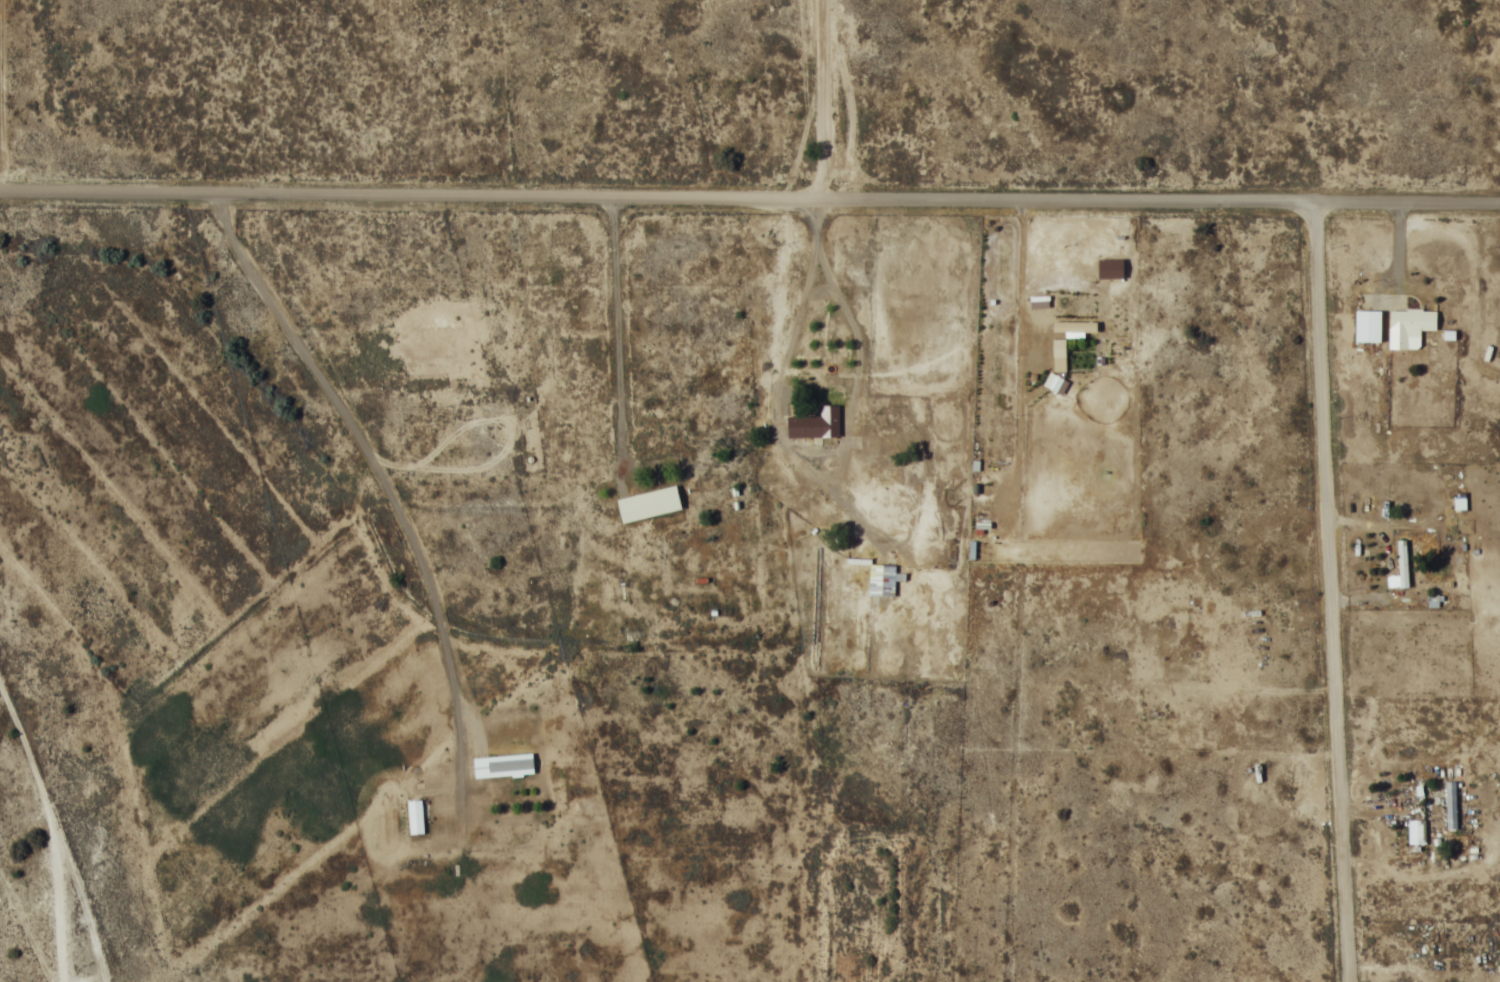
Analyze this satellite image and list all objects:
road: (824, 98)
road: (749, 195)
building: (1409, 324)
building: (1368, 325)
building: (815, 423)
building: (648, 503)
building: (1402, 563)
building: (883, 579)
road: (1332, 591)
road: (659, 607)
building: (503, 765)
building: (1451, 804)
building: (415, 816)
road: (57, 828)
road: (1407, 829)
building: (1416, 830)

